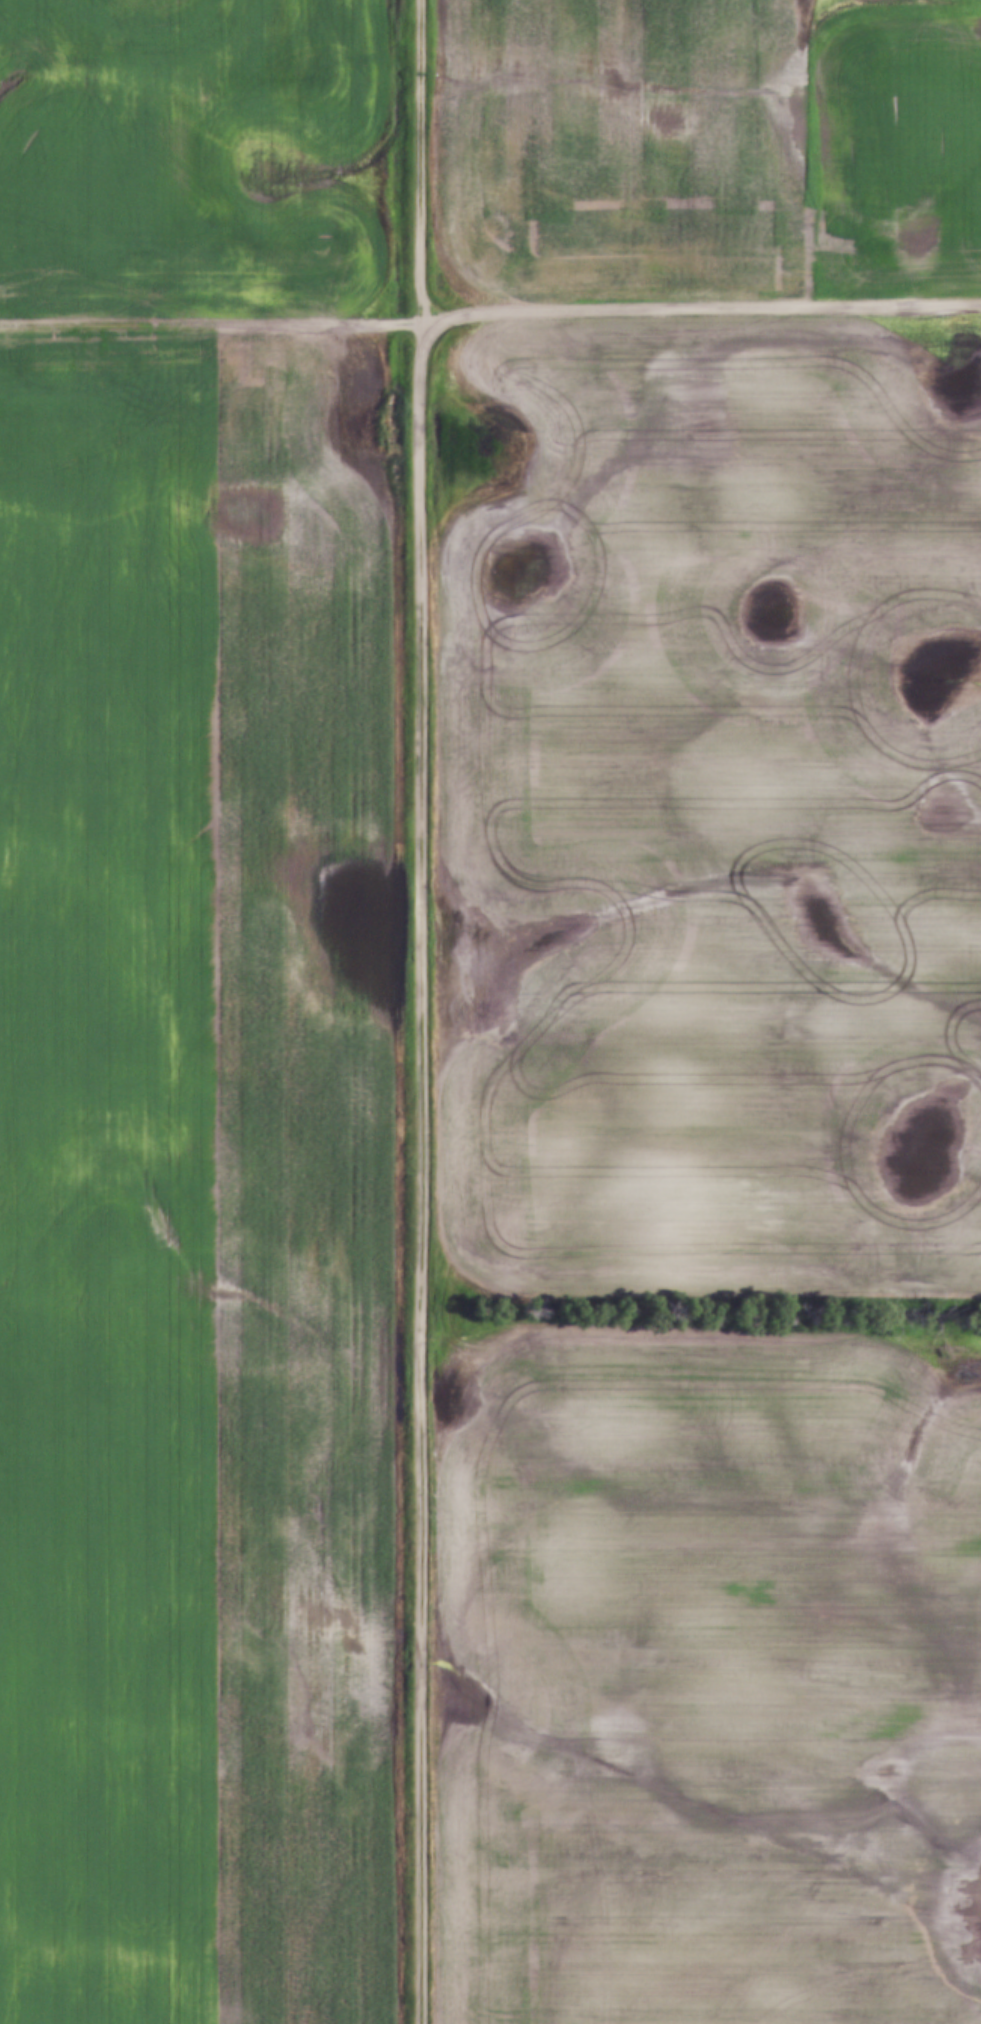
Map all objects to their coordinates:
road: (696, 306)
road: (419, 1011)

